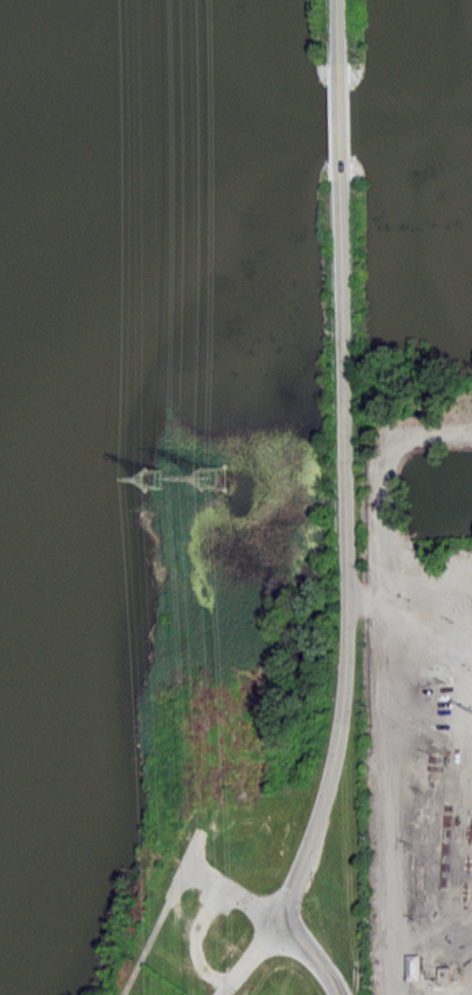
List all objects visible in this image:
road: (337, 33)
road: (339, 124)
power tower: (155, 474)
power tower: (215, 474)
road: (346, 558)
road: (232, 891)
road: (162, 913)
road: (194, 942)
road: (313, 954)
road: (248, 958)
landfill: (155, 984)

